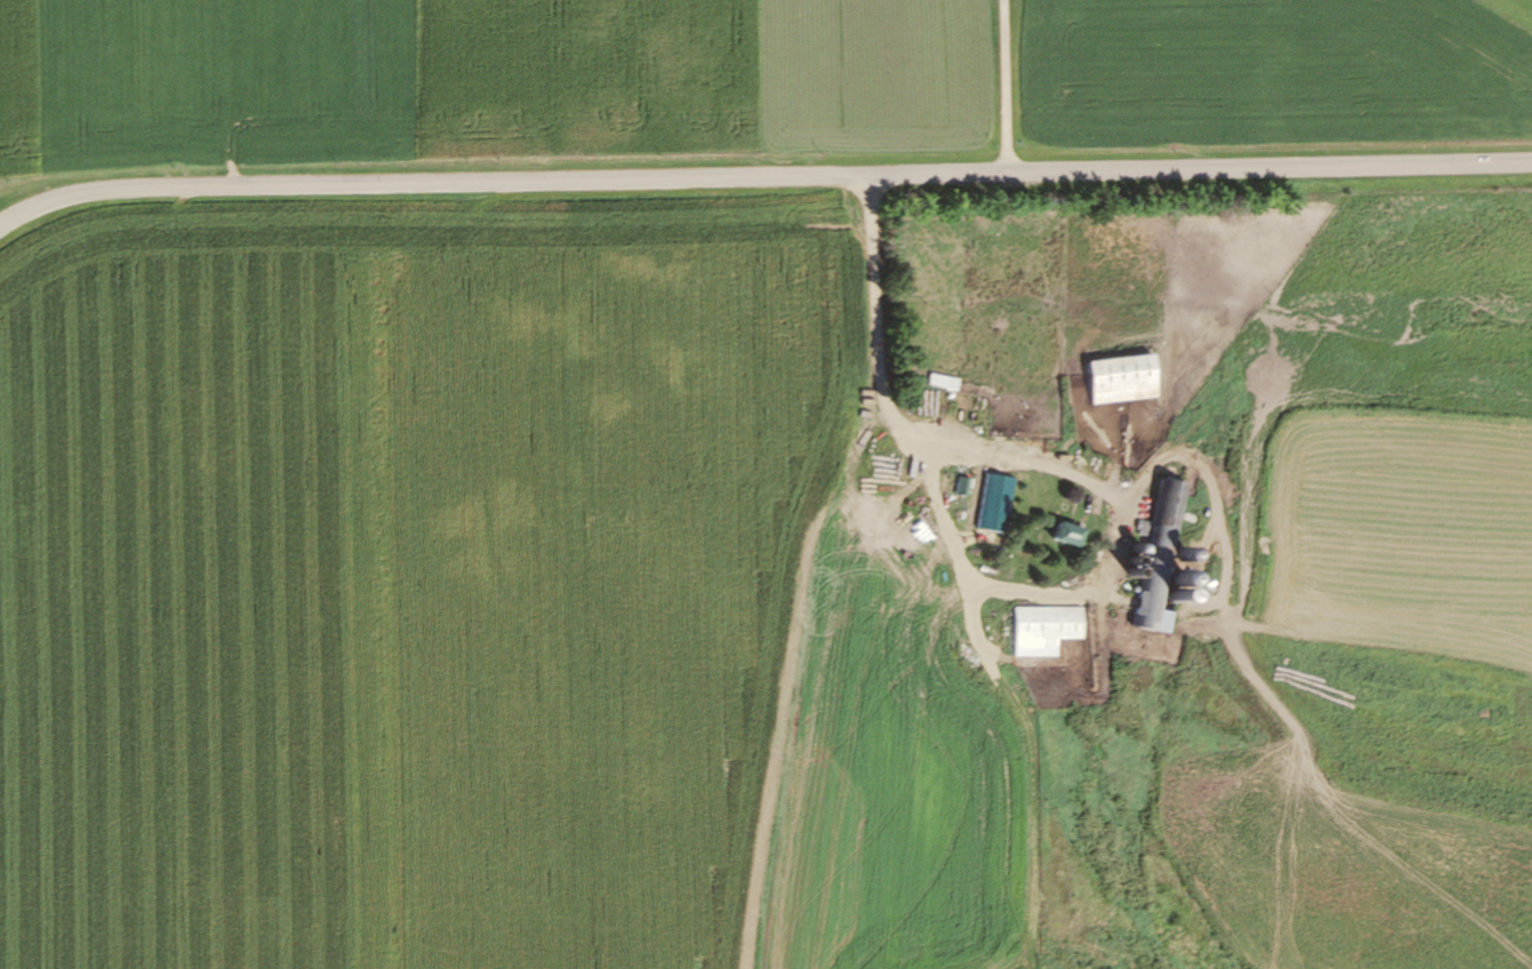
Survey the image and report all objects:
road: (1003, 87)
road: (762, 178)
building: (1116, 379)
building: (950, 386)
road: (1061, 474)
building: (959, 487)
building: (989, 504)
building: (1157, 563)
building: (1040, 630)
building: (1087, 665)

